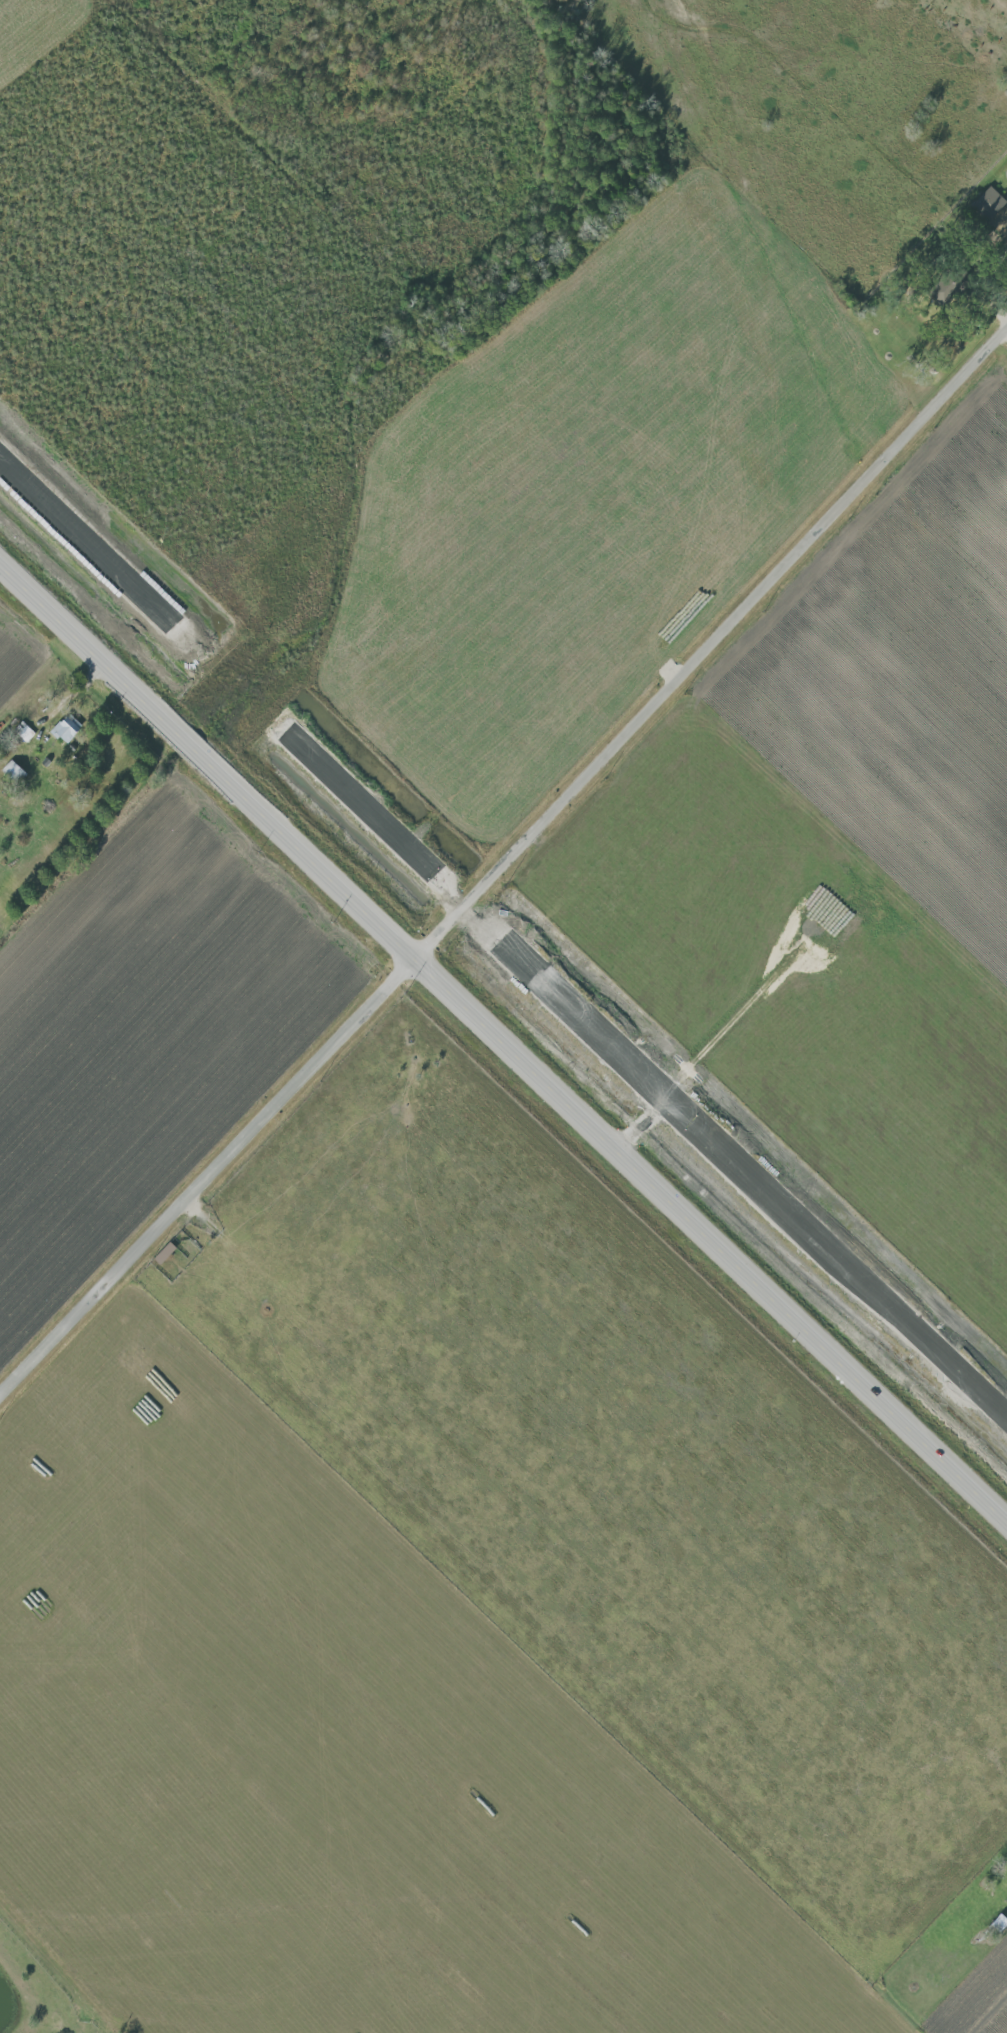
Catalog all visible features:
building: (985, 205)
building: (68, 729)
building: (15, 770)
road: (504, 869)
road: (503, 1045)

